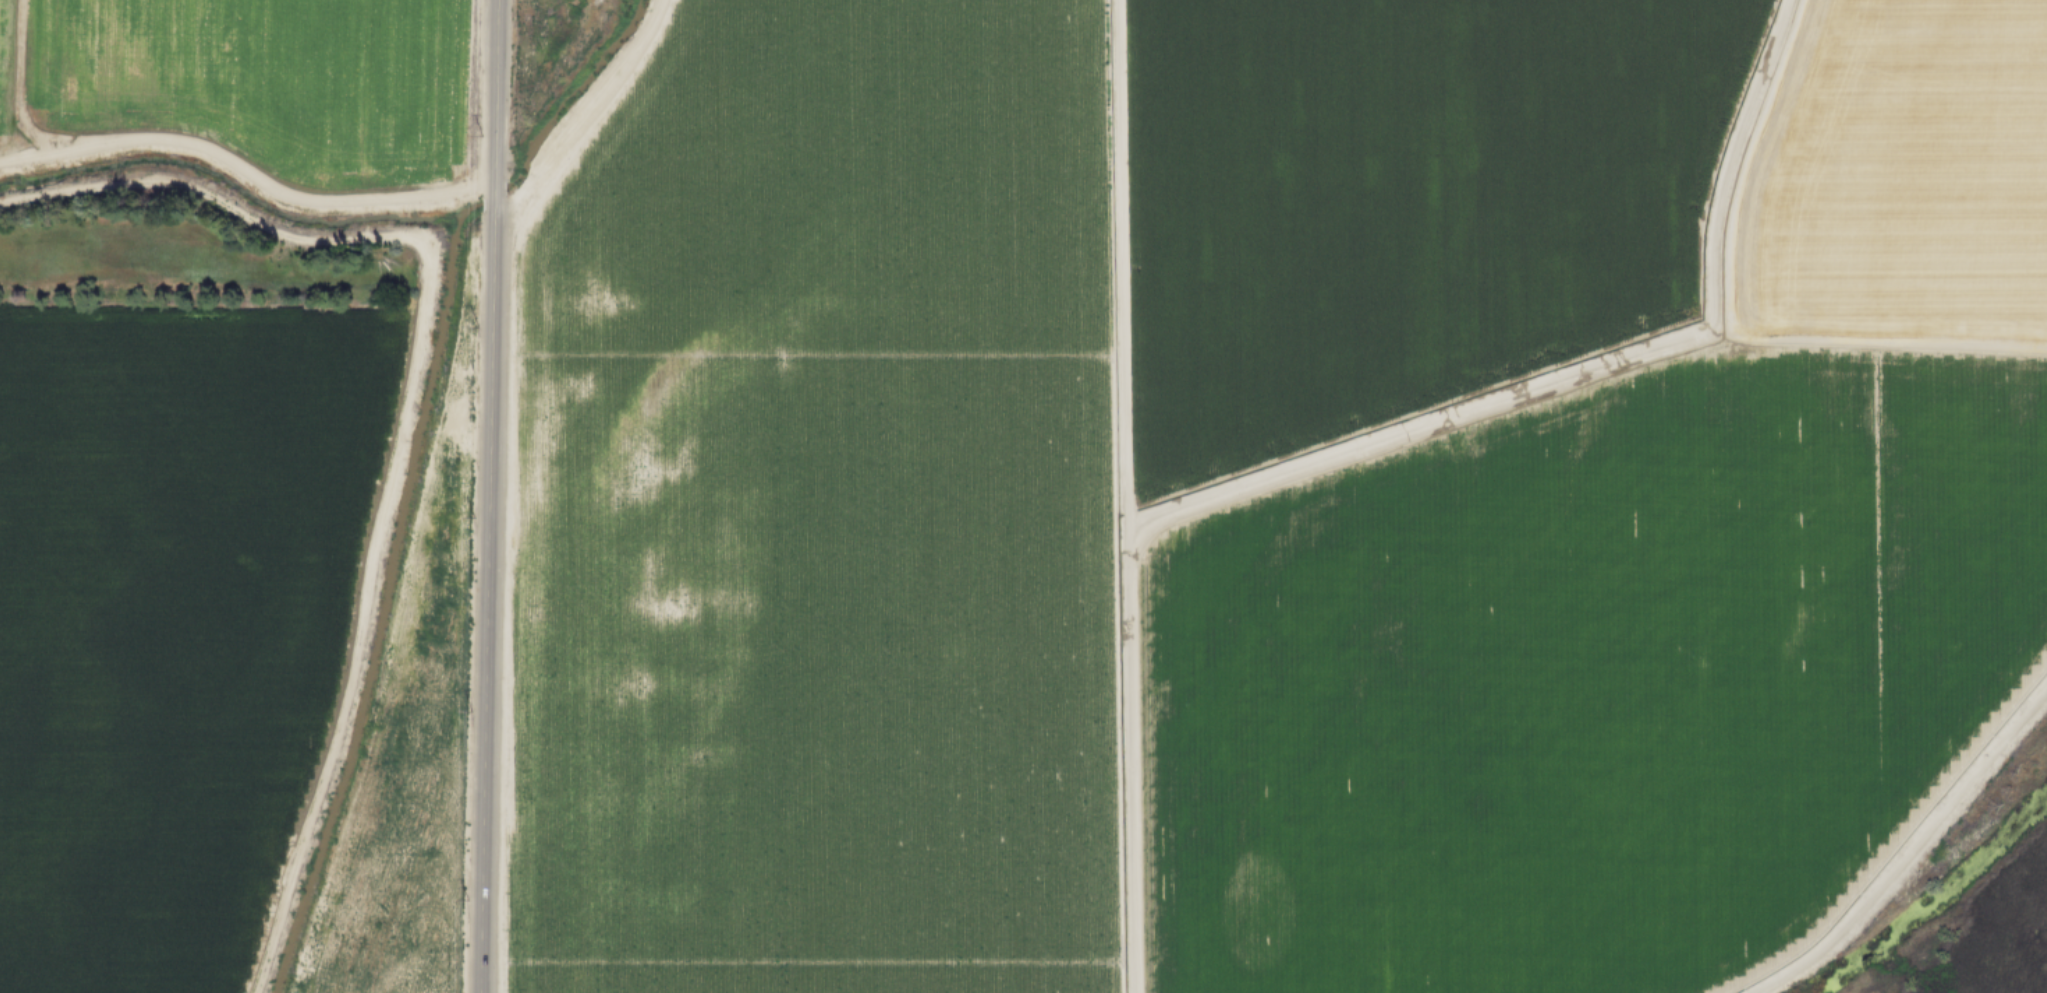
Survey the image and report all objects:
road: (17, 82)
road: (584, 119)
road: (249, 172)
road: (399, 407)
road: (1313, 460)
road: (489, 496)
road: (1127, 767)
road: (1906, 850)

